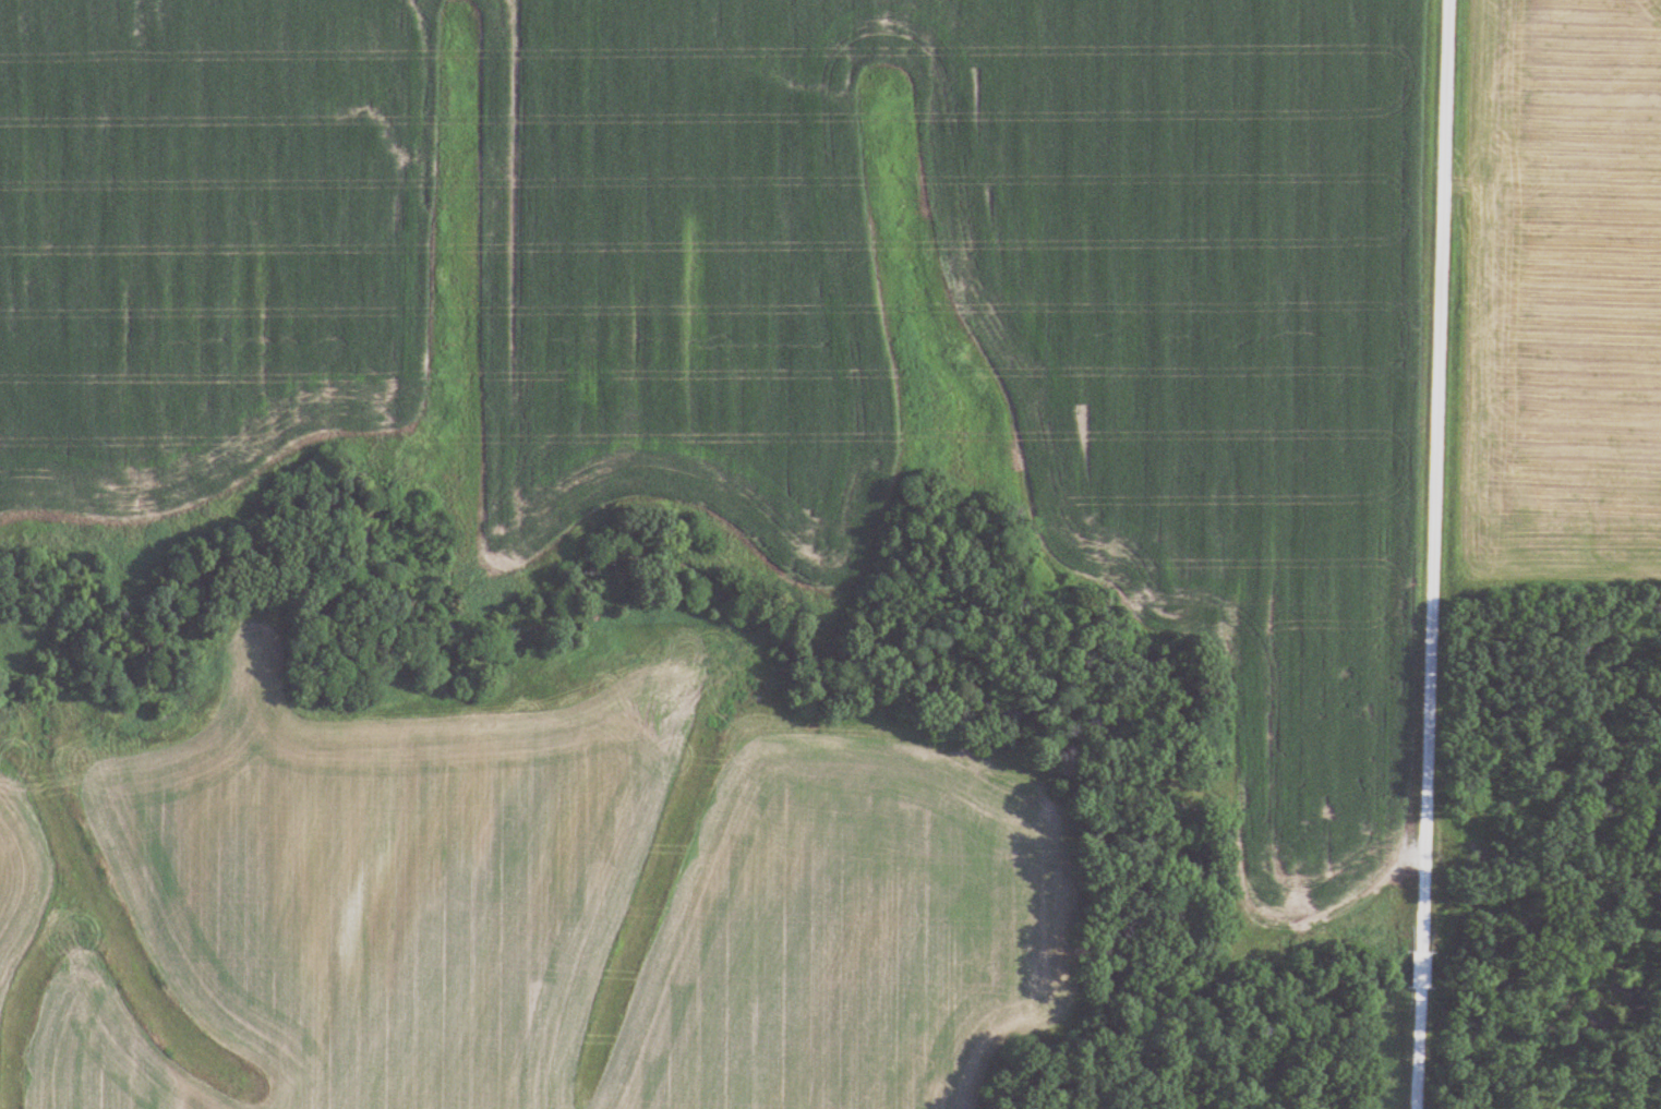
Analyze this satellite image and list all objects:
road: (1430, 554)

